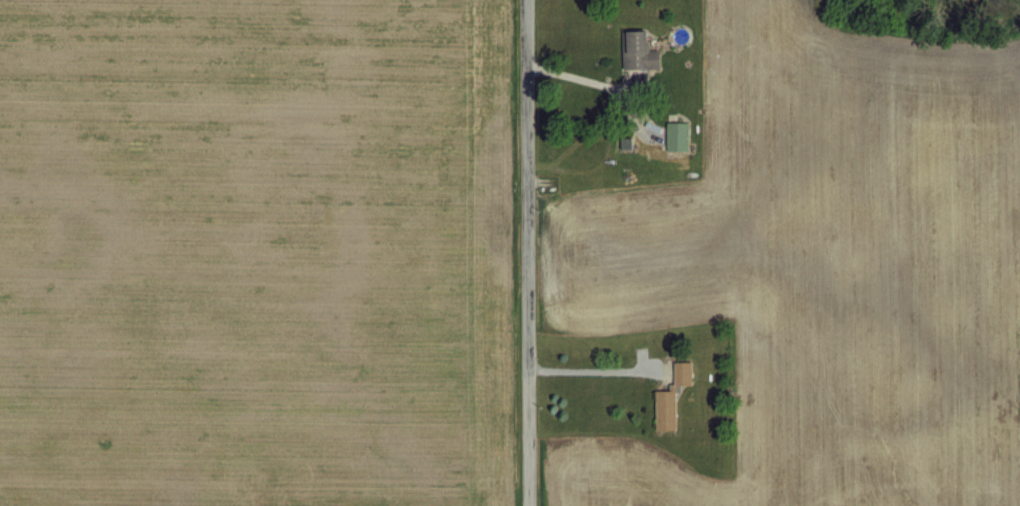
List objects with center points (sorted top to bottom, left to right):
building: (636, 51)
road: (574, 76)
building: (675, 135)
road: (523, 252)
road: (587, 369)
building: (670, 396)

